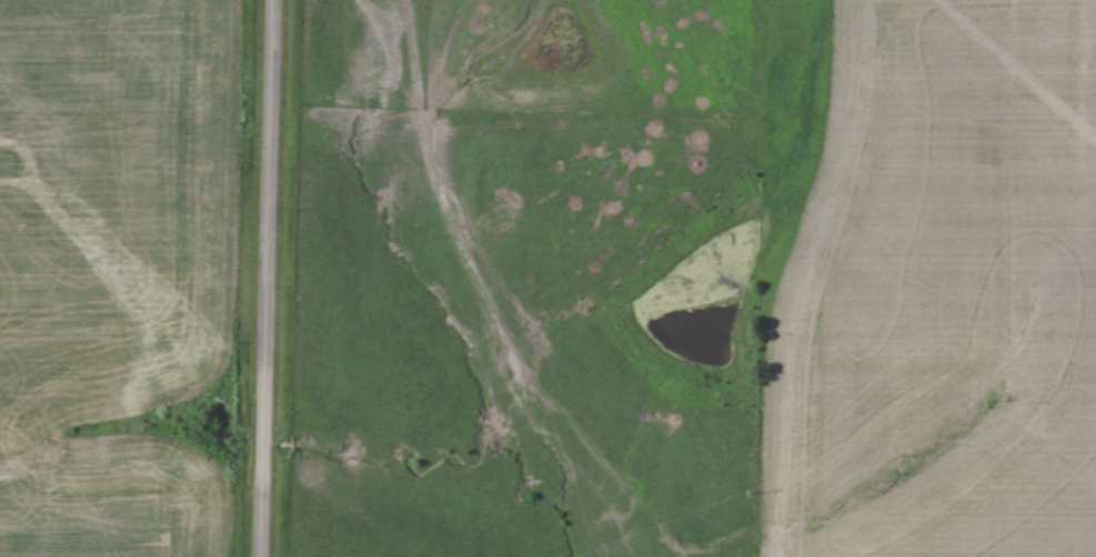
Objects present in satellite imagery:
road: (264, 278)

